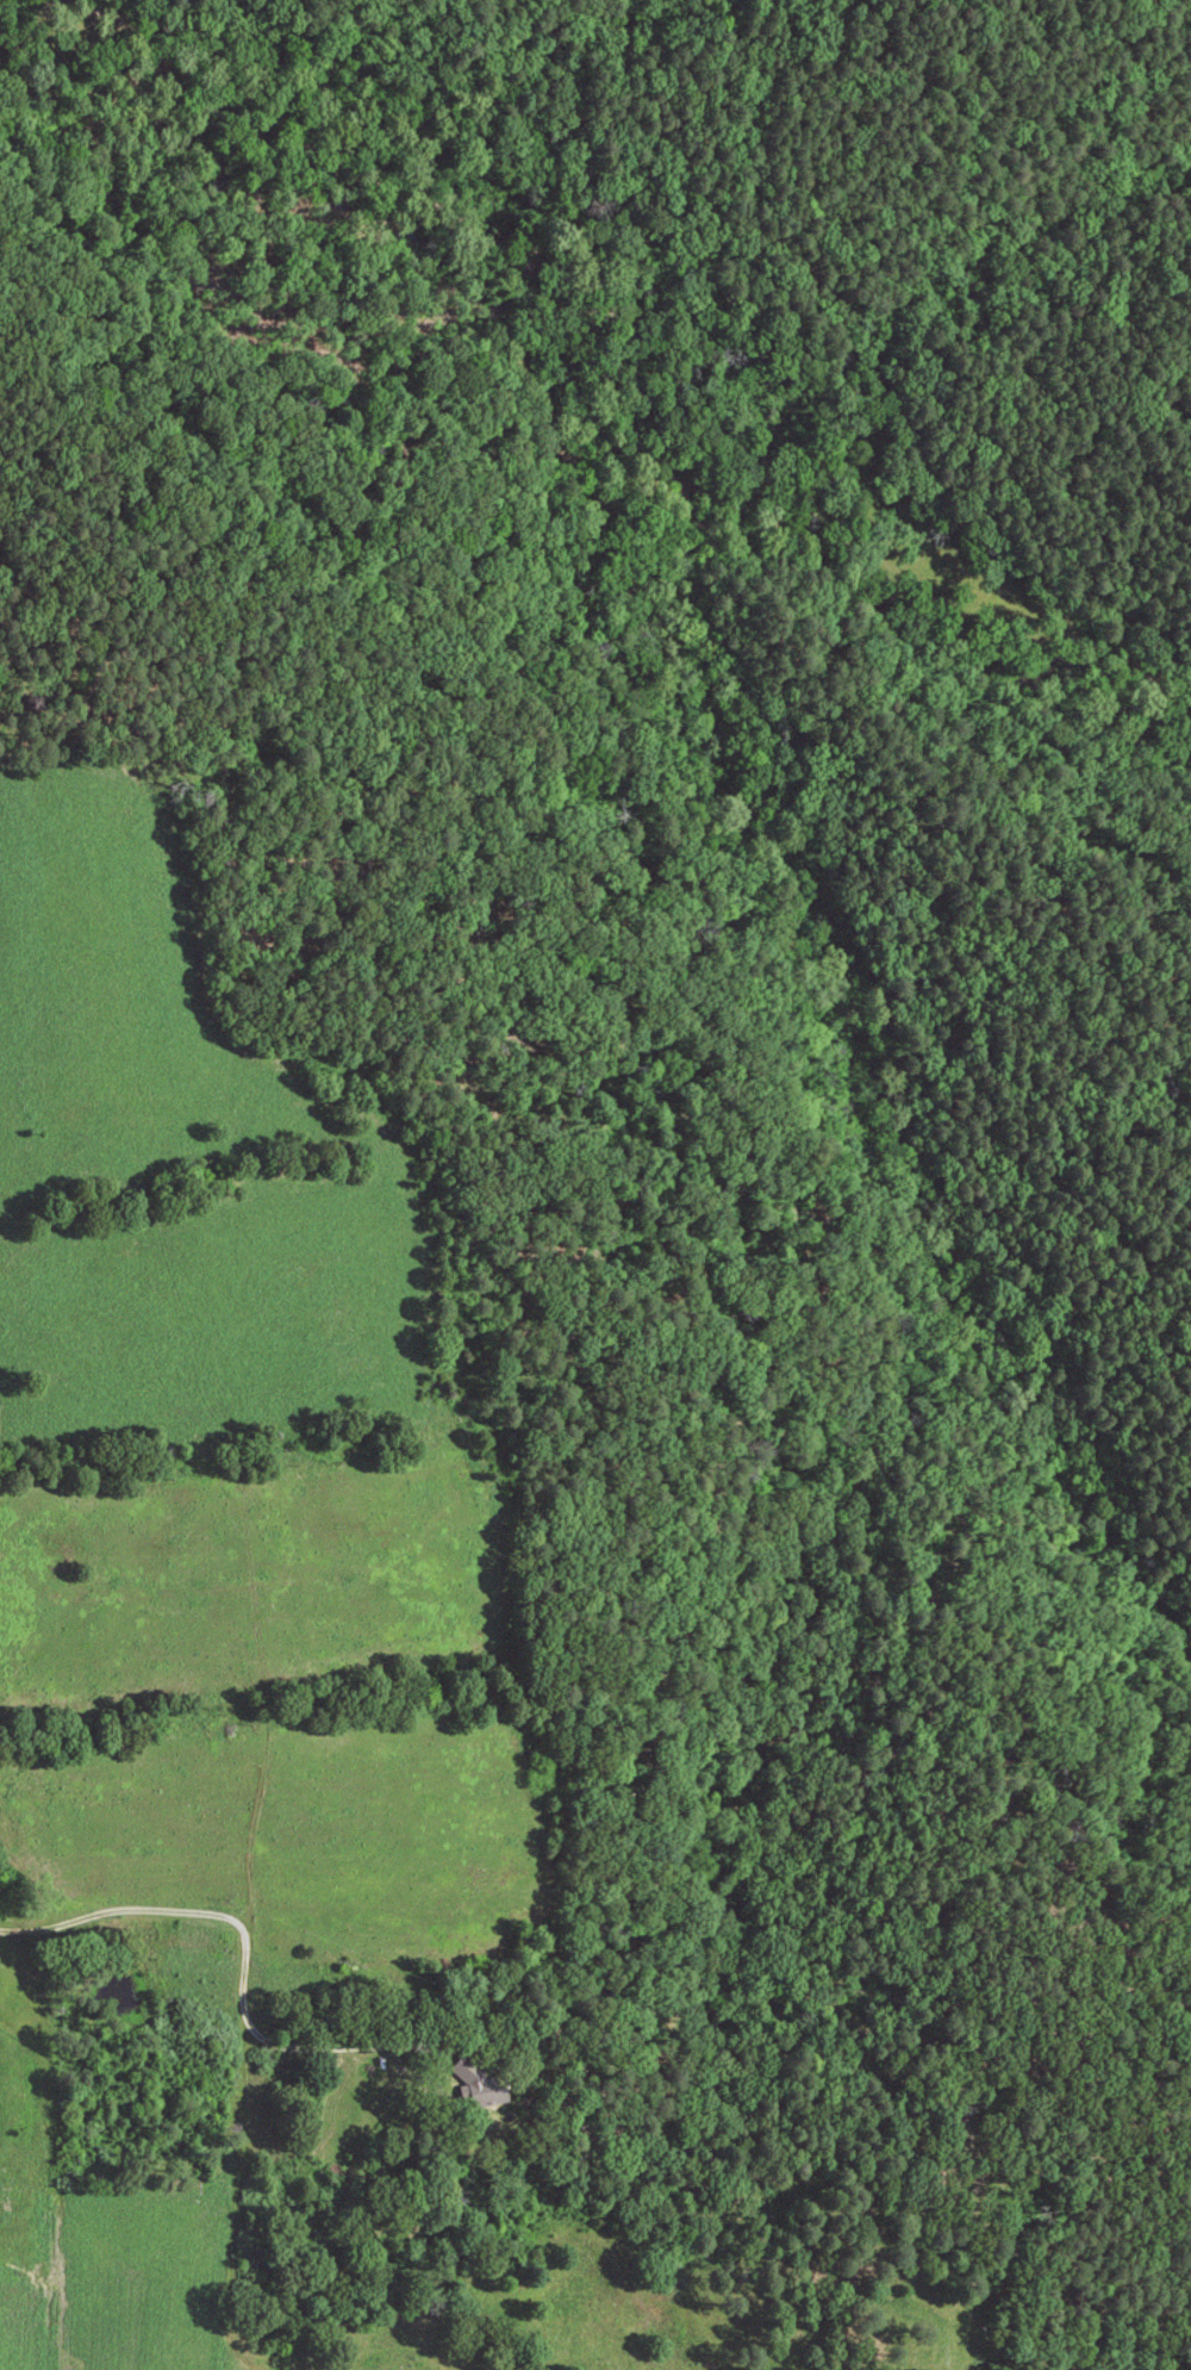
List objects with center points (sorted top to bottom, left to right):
road: (244, 1941)
building: (481, 2084)

